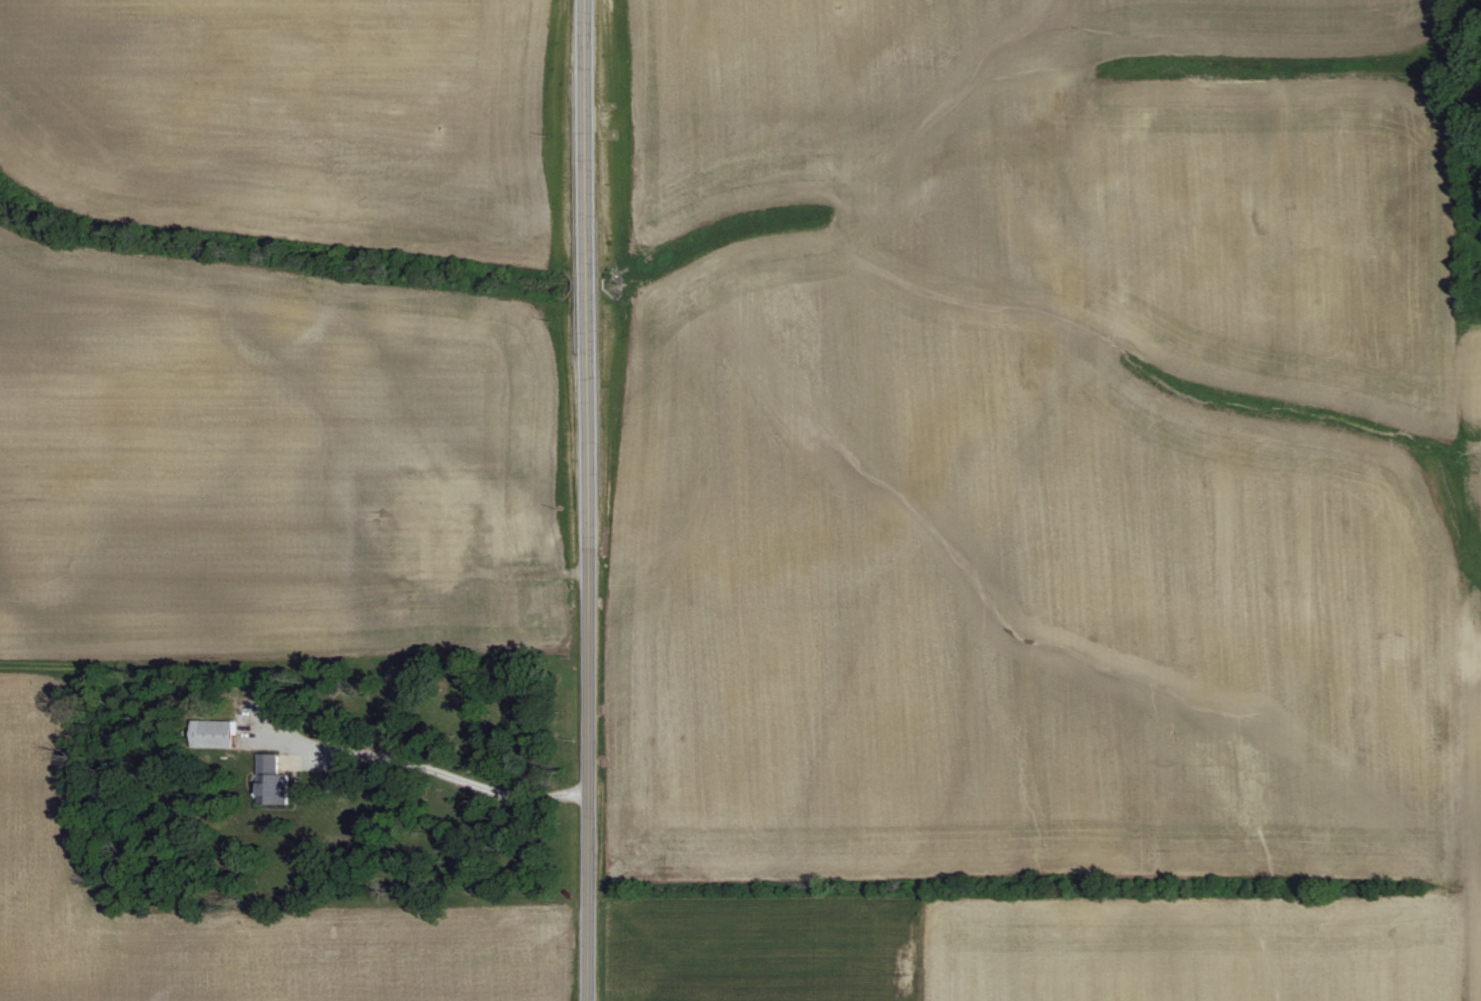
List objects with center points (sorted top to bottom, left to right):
road: (586, 500)
building: (511, 541)
building: (215, 733)
road: (455, 770)
building: (274, 780)

